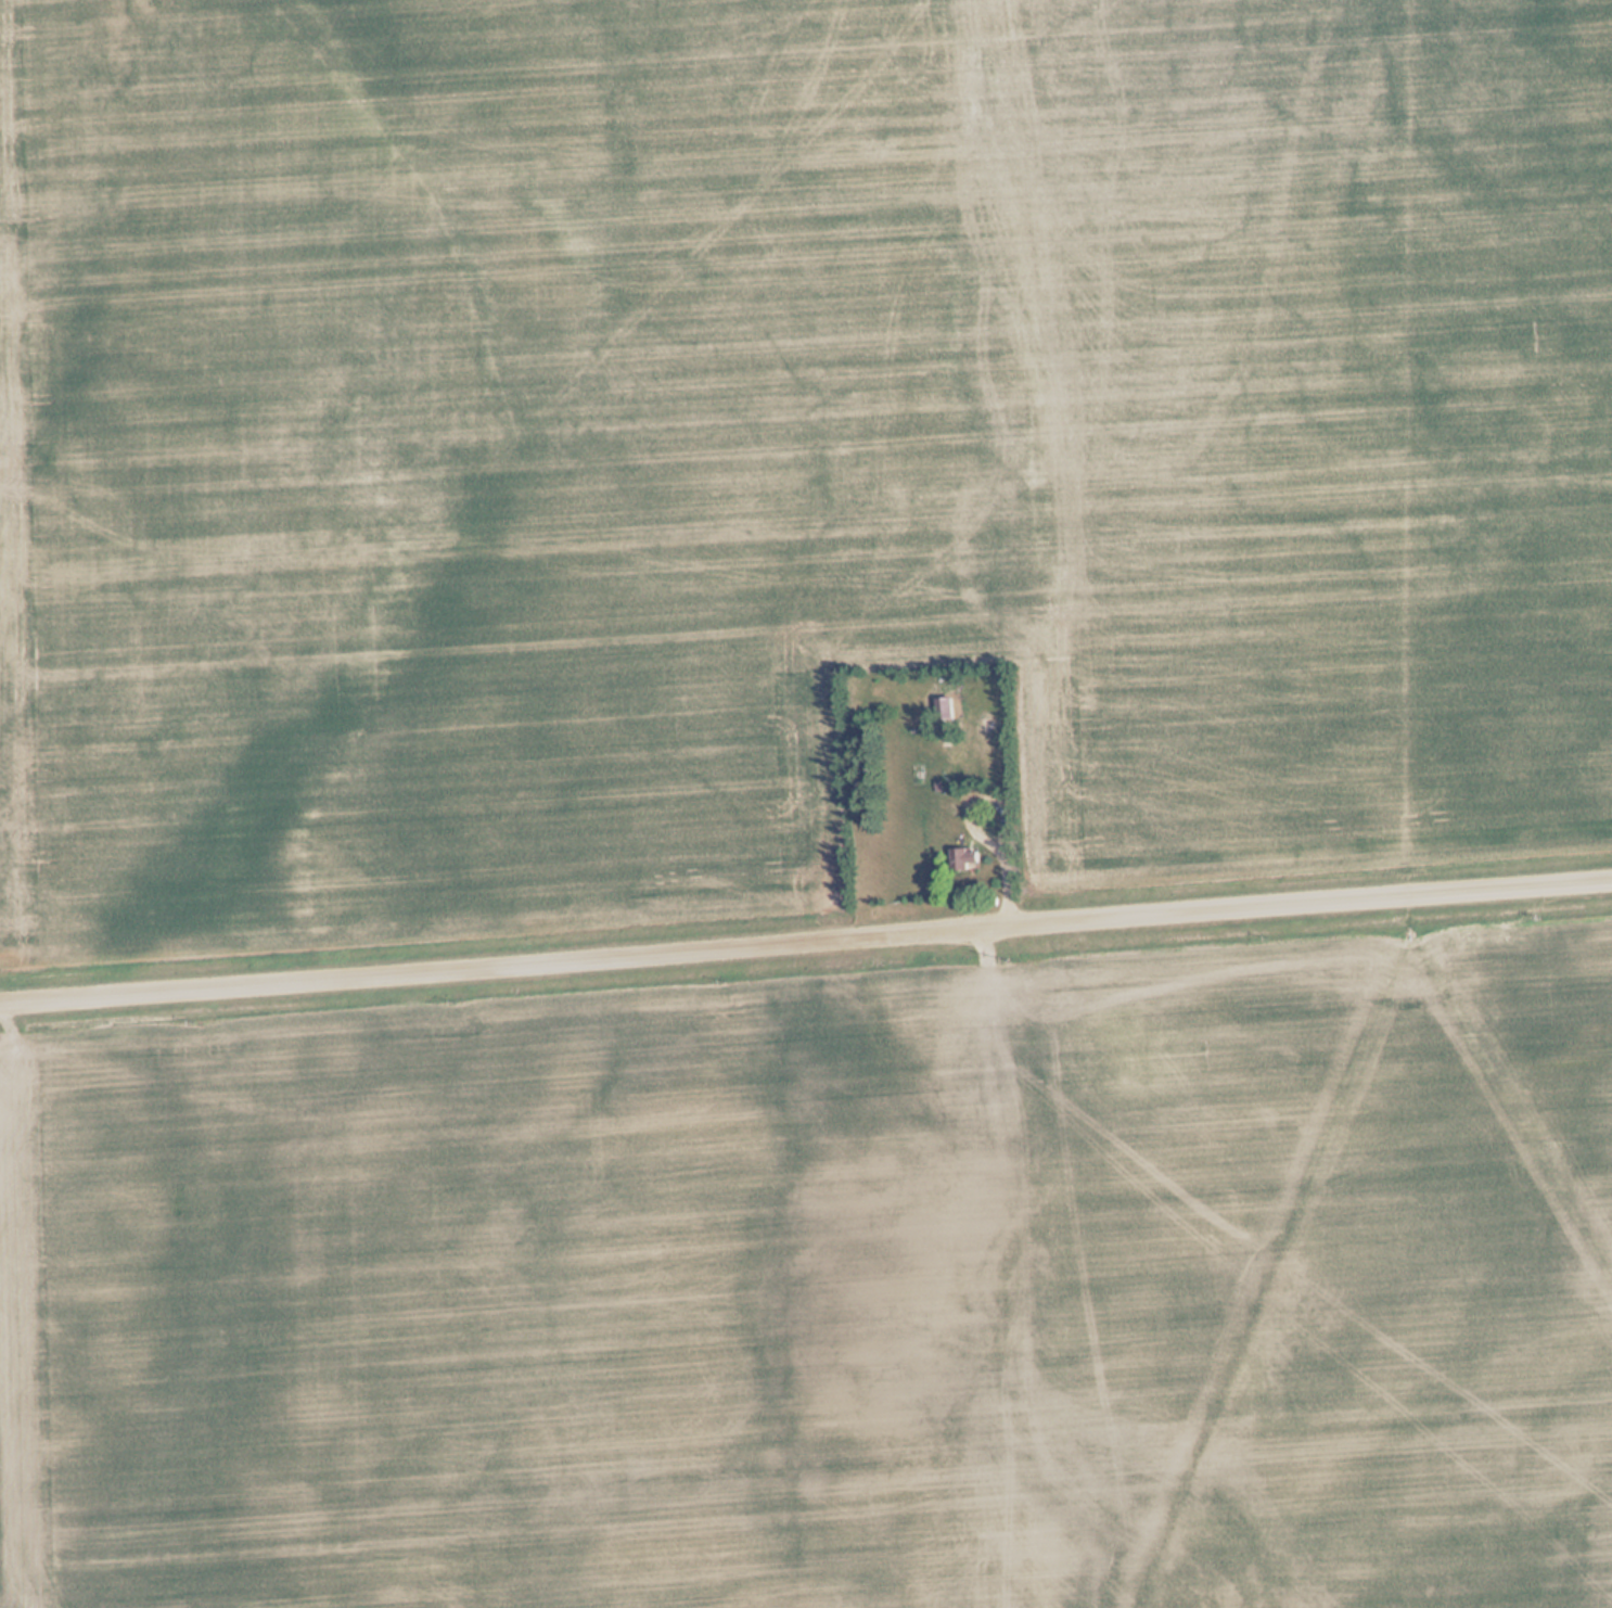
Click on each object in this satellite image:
building: (941, 709)
building: (963, 859)
road: (806, 942)

